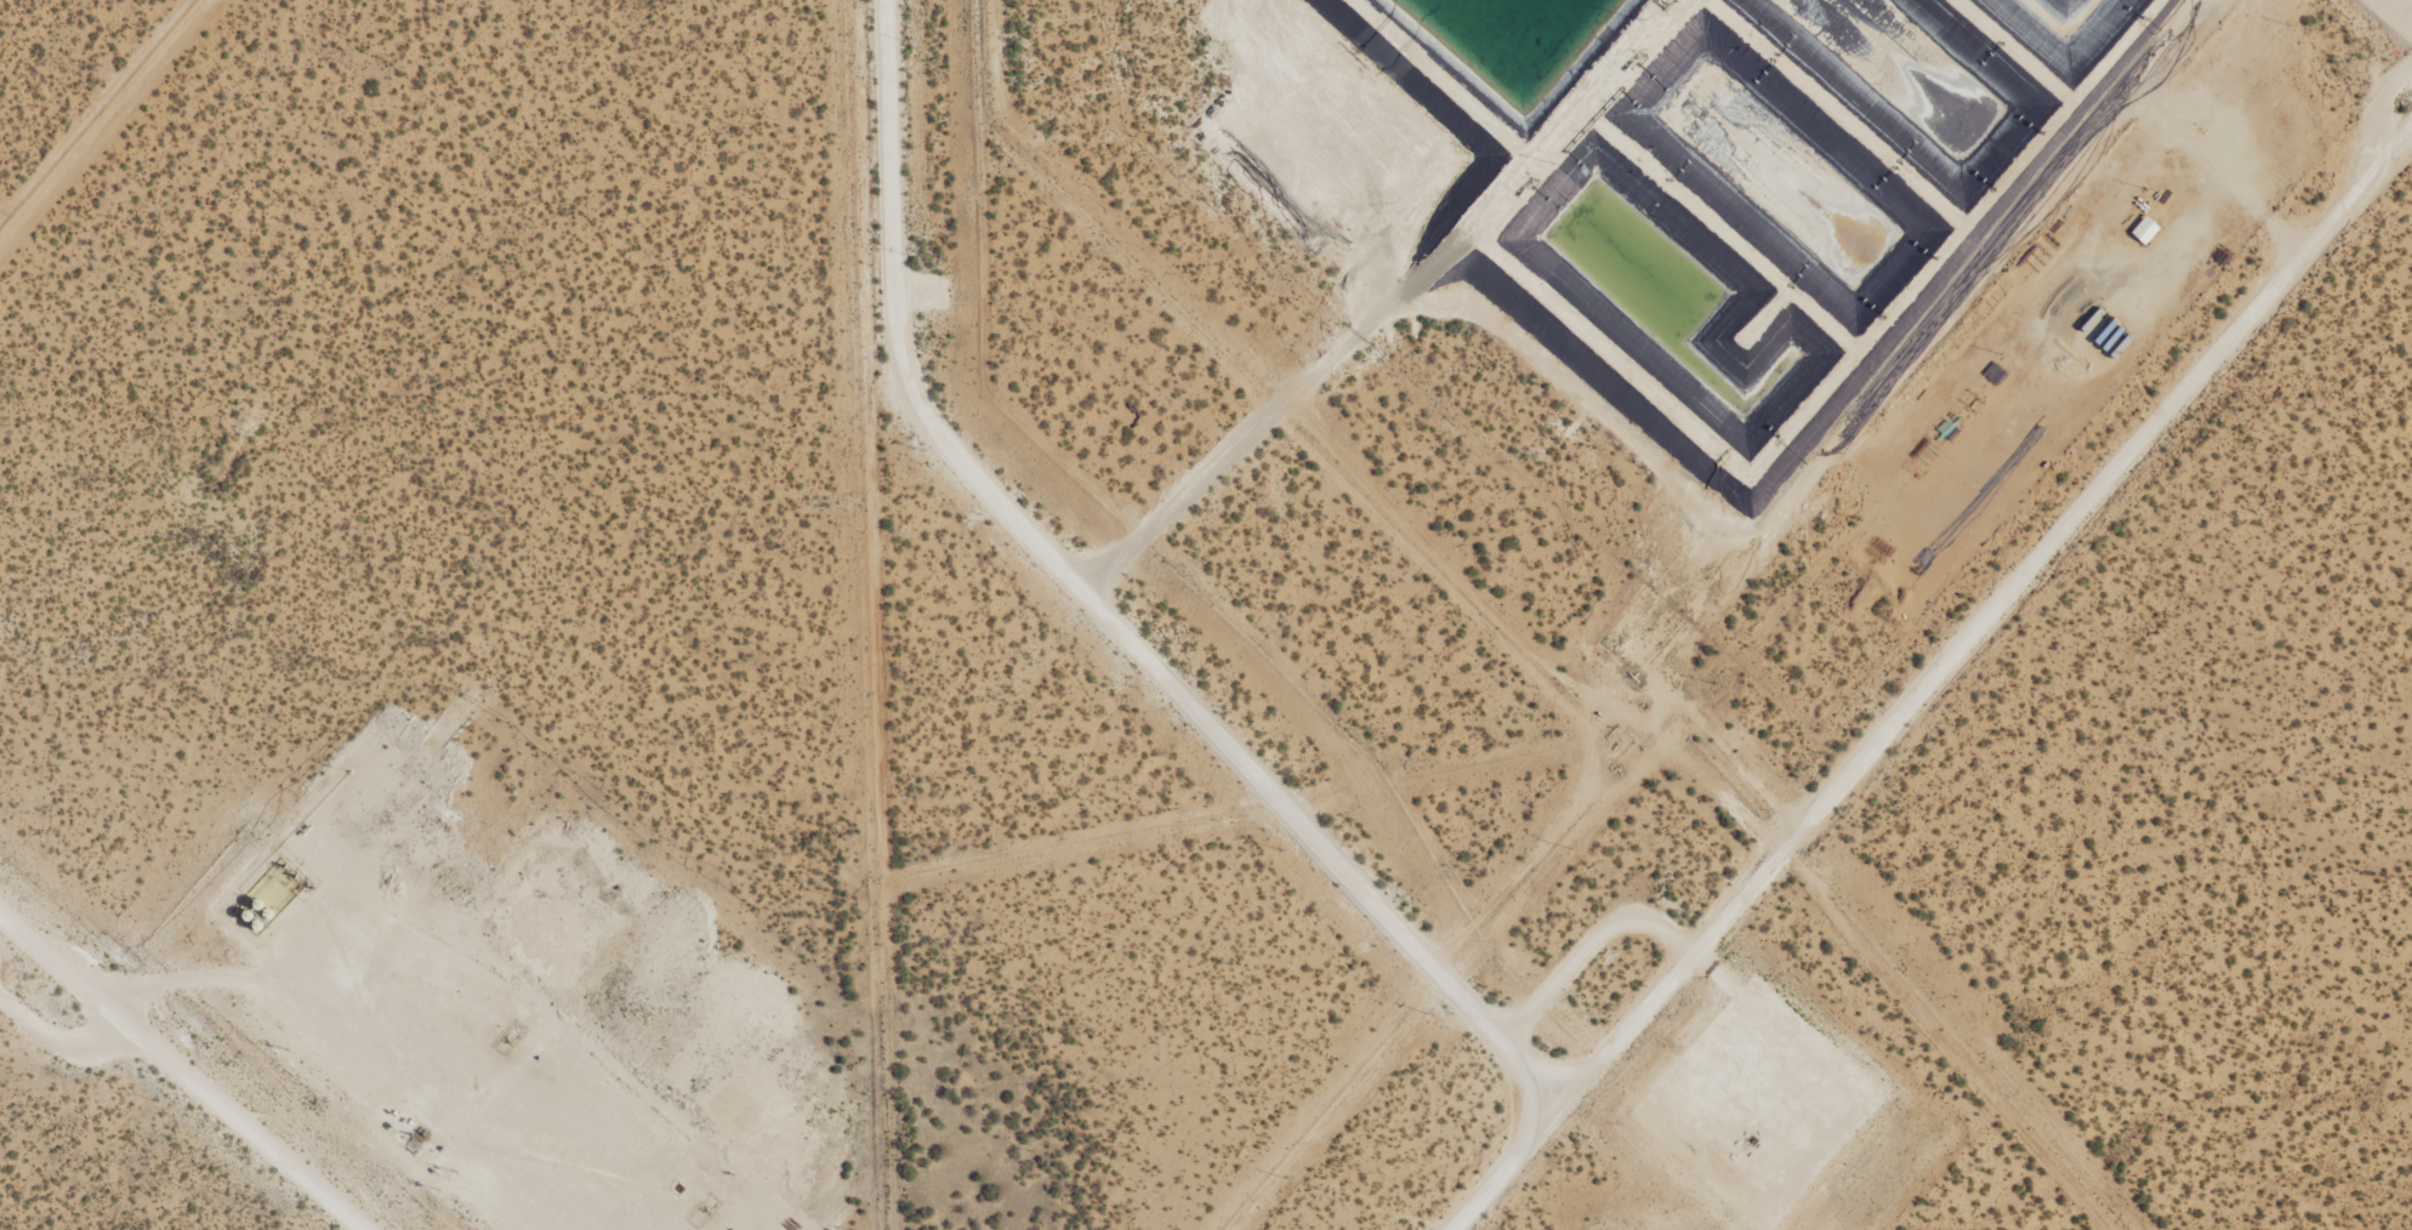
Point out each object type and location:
road: (1097, 608)
road: (1935, 683)
road: (1597, 933)
road: (132, 968)
road: (193, 980)
road: (61, 1030)
road: (182, 1071)

